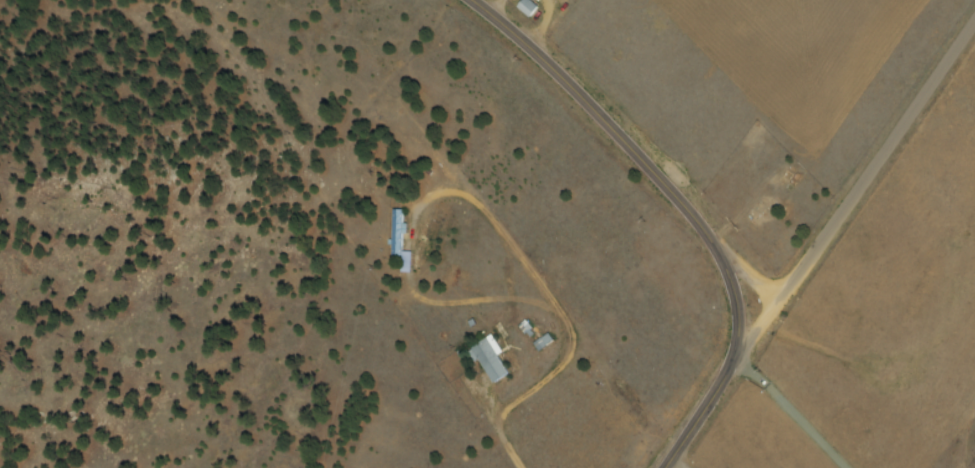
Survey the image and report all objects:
building: (525, 7)
park: (765, 194)
road: (853, 195)
road: (682, 205)
building: (397, 240)
road: (745, 271)
road: (189, 320)
building: (542, 342)
building: (488, 359)
road: (825, 400)
road: (673, 463)

